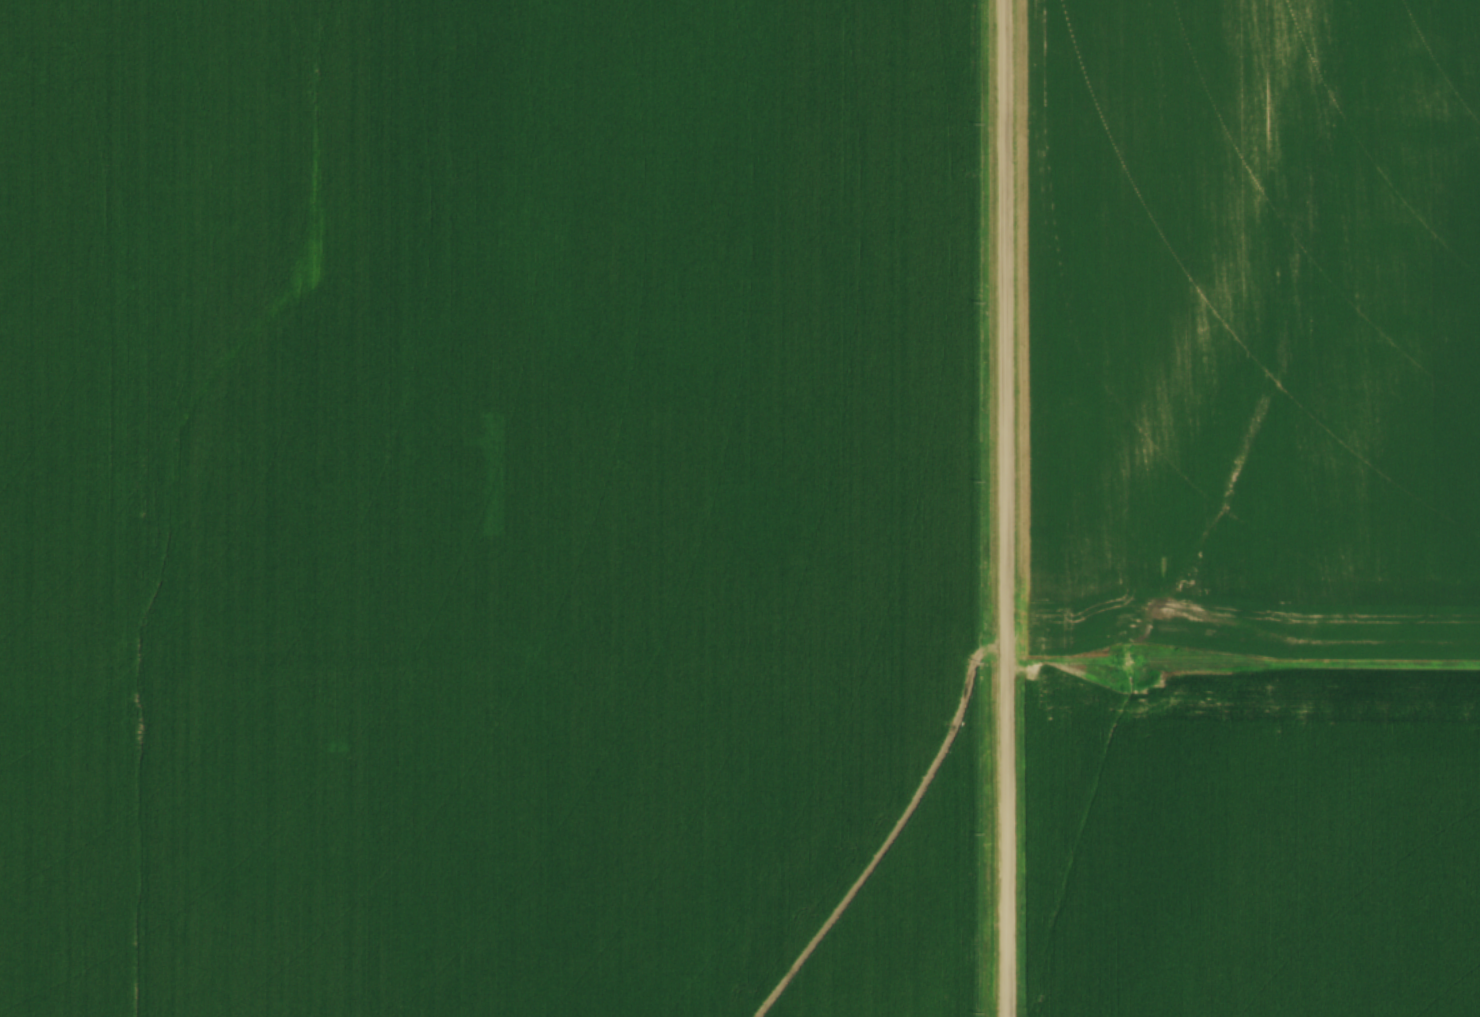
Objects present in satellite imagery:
road: (997, 508)

